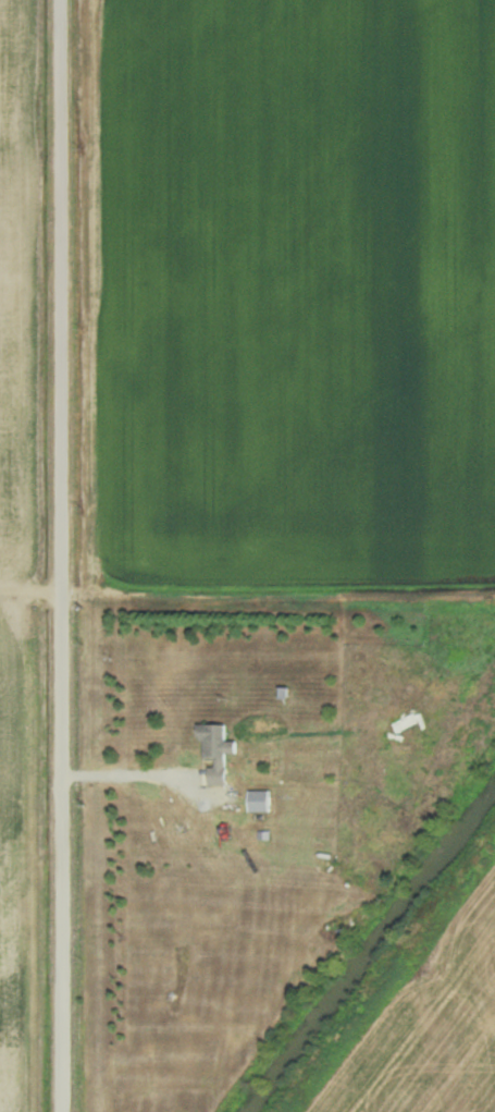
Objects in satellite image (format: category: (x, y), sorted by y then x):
road: (61, 555)
road: (44, 589)
road: (81, 589)
building: (335, 734)
building: (215, 738)
road: (151, 773)
building: (261, 802)

